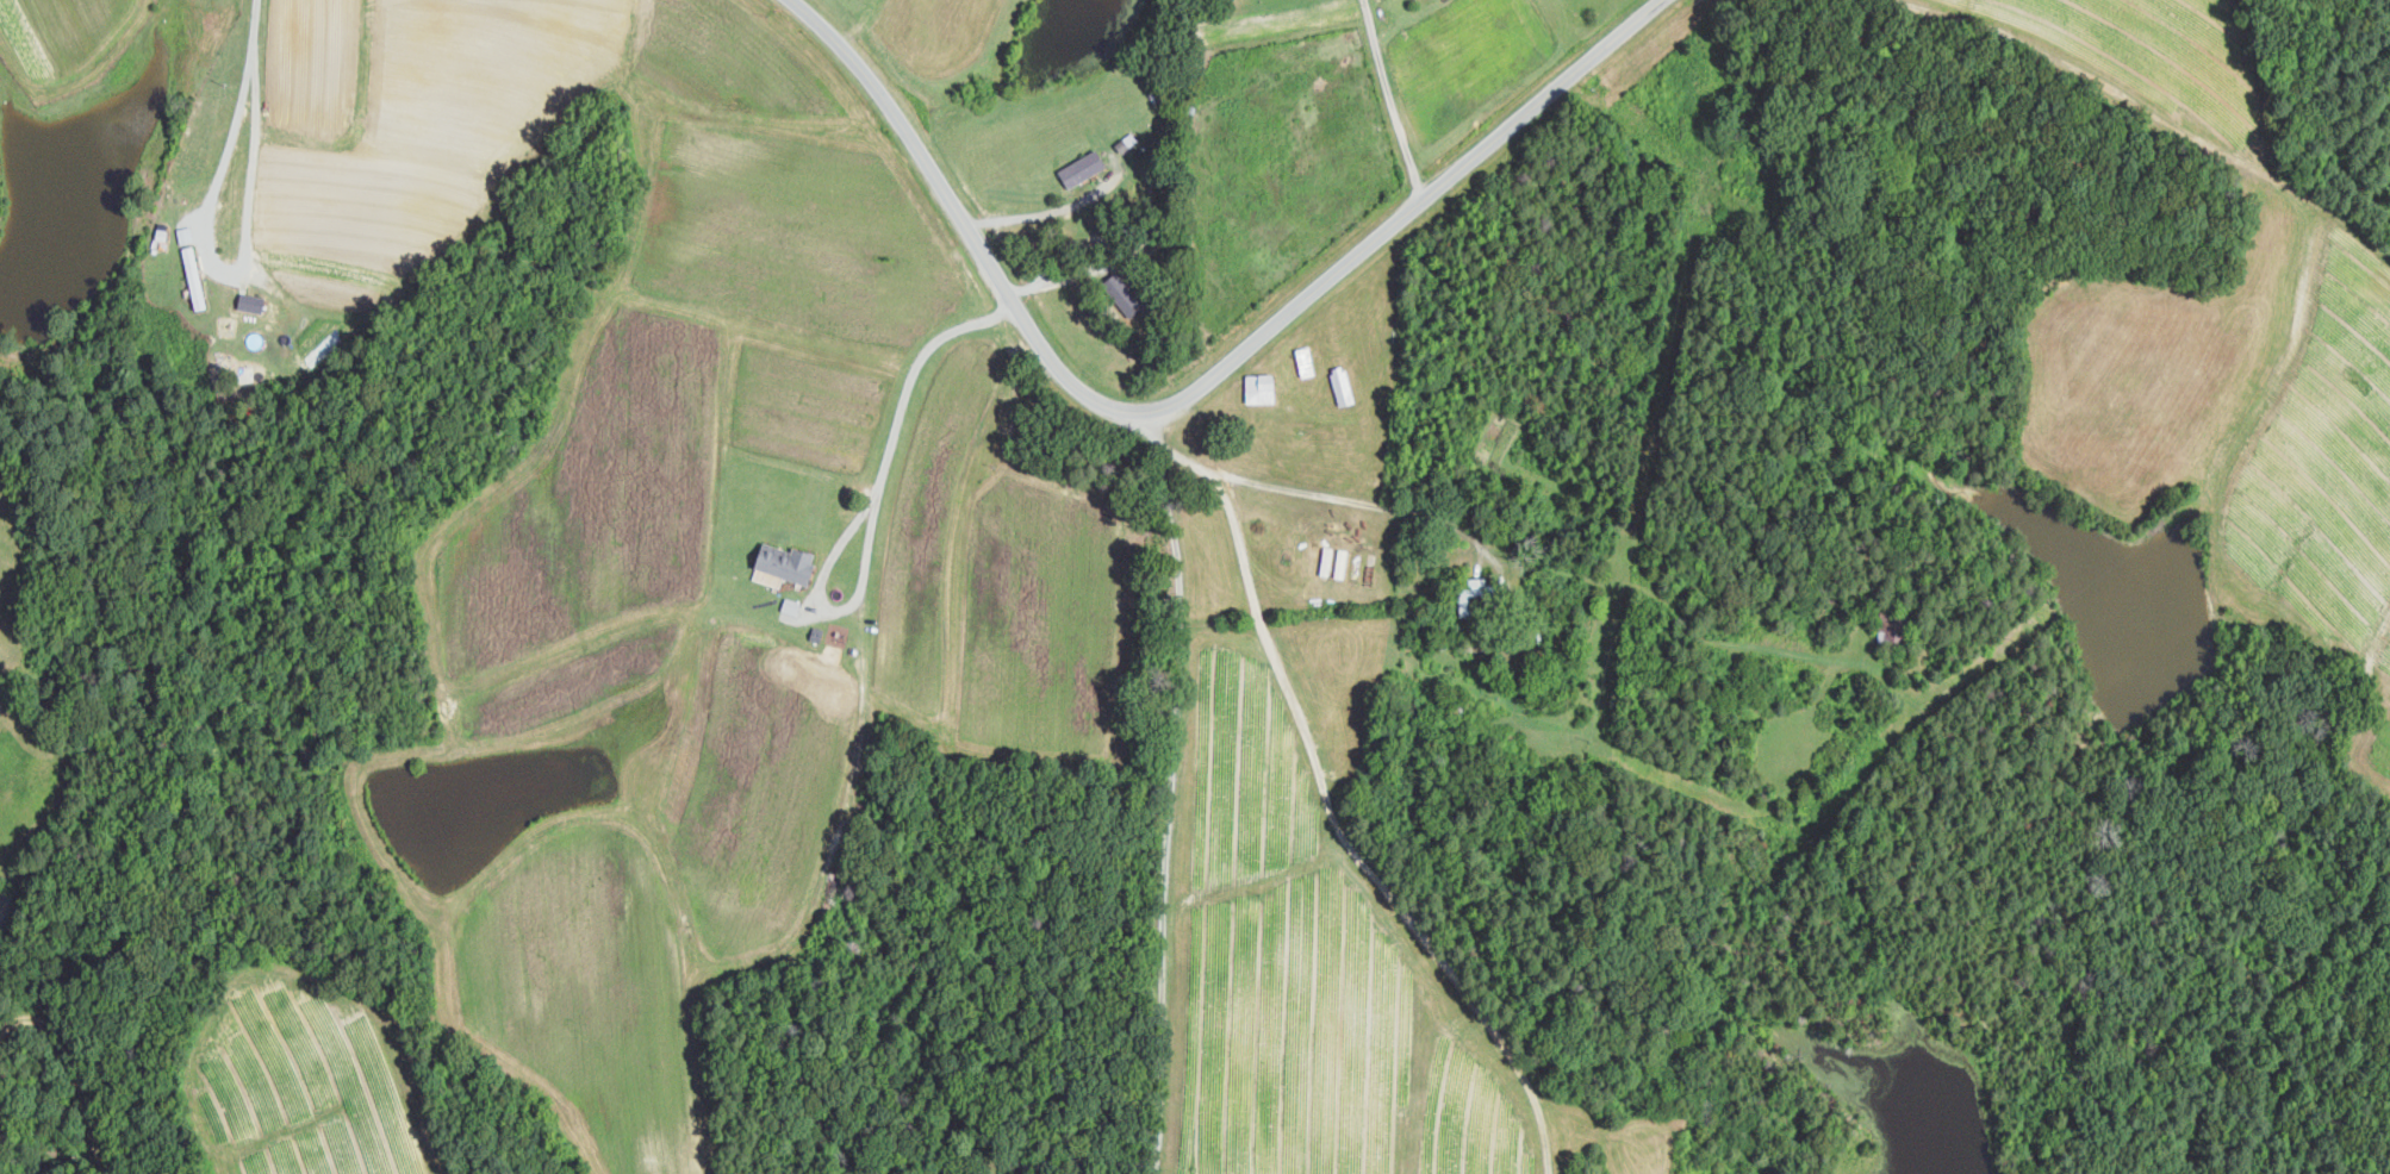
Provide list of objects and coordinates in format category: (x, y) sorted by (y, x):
road: (255, 21)
road: (1392, 99)
building: (1084, 168)
road: (1053, 211)
building: (186, 235)
road: (1107, 257)
road: (224, 268)
building: (1126, 293)
building: (254, 302)
building: (1344, 386)
building: (1263, 388)
road: (1193, 391)
road: (876, 506)
road: (1544, 541)
building: (1327, 561)
building: (790, 562)
building: (1343, 563)
building: (1475, 595)
building: (793, 606)
building: (1891, 630)
road: (1336, 763)
road: (1172, 800)
road: (1087, 1159)

